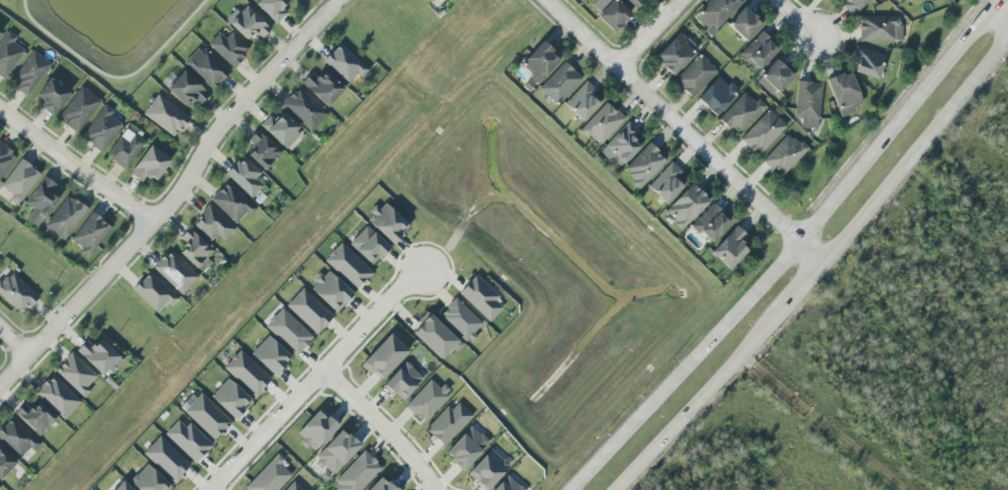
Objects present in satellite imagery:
building: (430, 0)
building: (914, 0)
building: (631, 3)
building: (852, 5)
building: (271, 8)
building: (715, 12)
building: (612, 15)
road: (999, 16)
road: (795, 19)
building: (247, 23)
building: (743, 23)
building: (879, 28)
building: (0, 33)
road: (650, 33)
building: (228, 48)
building: (758, 50)
building: (676, 53)
building: (8, 54)
building: (539, 62)
building: (867, 62)
building: (343, 63)
building: (206, 68)
building: (31, 73)
building: (695, 75)
road: (113, 77)
building: (774, 77)
building: (558, 83)
building: (322, 87)
building: (186, 89)
building: (843, 93)
building: (51, 95)
building: (717, 95)
building: (582, 101)
building: (807, 103)
building: (78, 109)
building: (304, 109)
building: (741, 112)
building: (165, 115)
building: (601, 123)
building: (100, 129)
building: (281, 130)
road: (684, 130)
building: (762, 132)
building: (620, 146)
building: (125, 148)
building: (262, 150)
road: (914, 150)
building: (784, 155)
building: (5, 159)
building: (149, 164)
road: (76, 166)
building: (643, 166)
building: (244, 176)
building: (19, 180)
building: (666, 183)
road: (175, 196)
building: (40, 201)
building: (230, 202)
building: (685, 206)
building: (65, 217)
building: (387, 222)
building: (709, 223)
building: (212, 224)
building: (90, 234)
road: (435, 244)
building: (369, 245)
building: (194, 248)
building: (729, 248)
road: (785, 248)
building: (348, 266)
building: (174, 272)
road: (799, 286)
building: (331, 291)
building: (153, 292)
building: (16, 293)
building: (481, 298)
building: (308, 310)
building: (460, 320)
building: (288, 331)
building: (434, 336)
road: (13, 342)
building: (99, 356)
building: (271, 356)
building: (384, 356)
building: (247, 373)
building: (75, 374)
road: (315, 378)
building: (402, 381)
building: (57, 397)
building: (230, 399)
building: (427, 400)
road: (696, 401)
building: (206, 416)
building: (35, 417)
road: (824, 421)
building: (448, 423)
road: (382, 426)
road: (400, 427)
building: (315, 430)
road: (373, 435)
building: (17, 437)
building: (188, 440)
building: (465, 448)
building: (336, 452)
building: (166, 459)
building: (5, 462)
building: (487, 470)
building: (357, 473)
building: (270, 476)
building: (148, 480)
building: (381, 485)
building: (506, 485)
building: (0, 487)
building: (122, 487)
building: (293, 487)
road: (229, 489)

